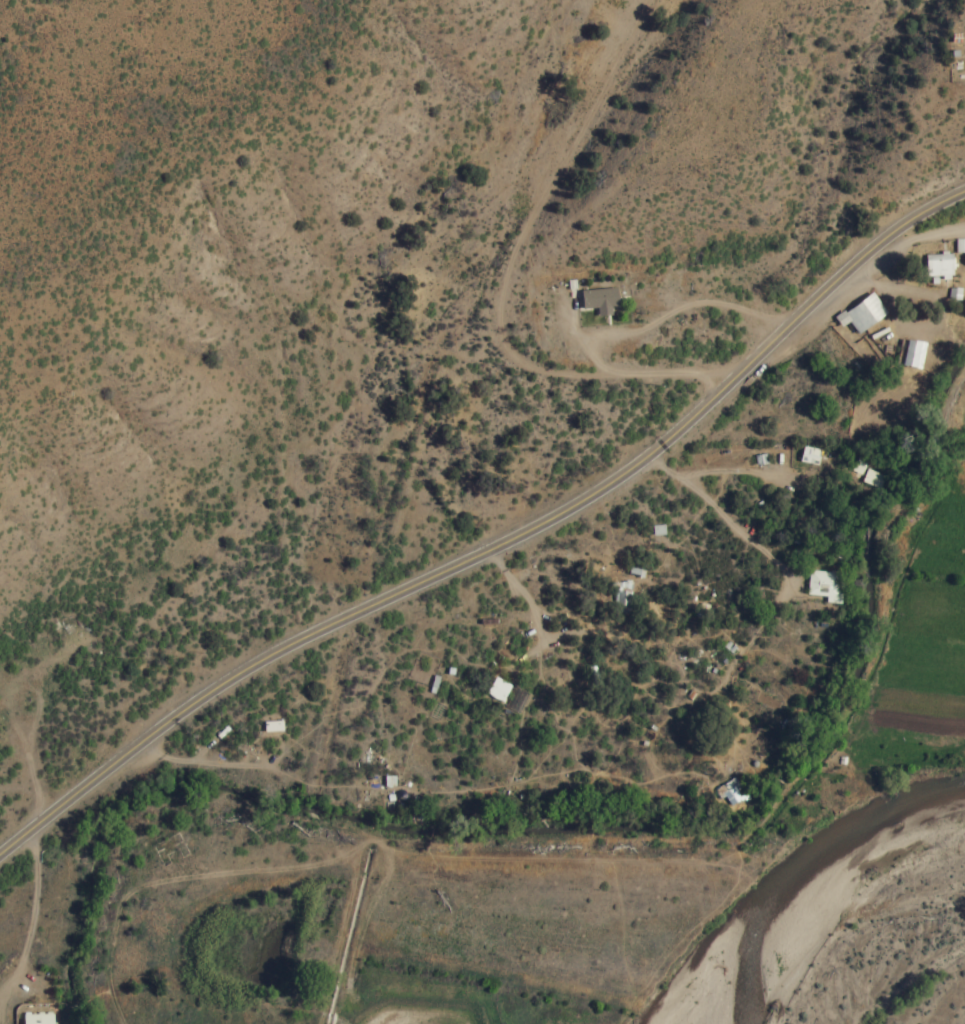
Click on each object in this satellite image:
building: (961, 249)
road: (918, 253)
building: (938, 268)
building: (599, 301)
building: (862, 315)
building: (910, 356)
building: (807, 458)
building: (871, 481)
road: (497, 547)
building: (821, 587)
building: (619, 596)
building: (495, 691)
building: (728, 797)
river: (947, 987)
building: (35, 1019)

